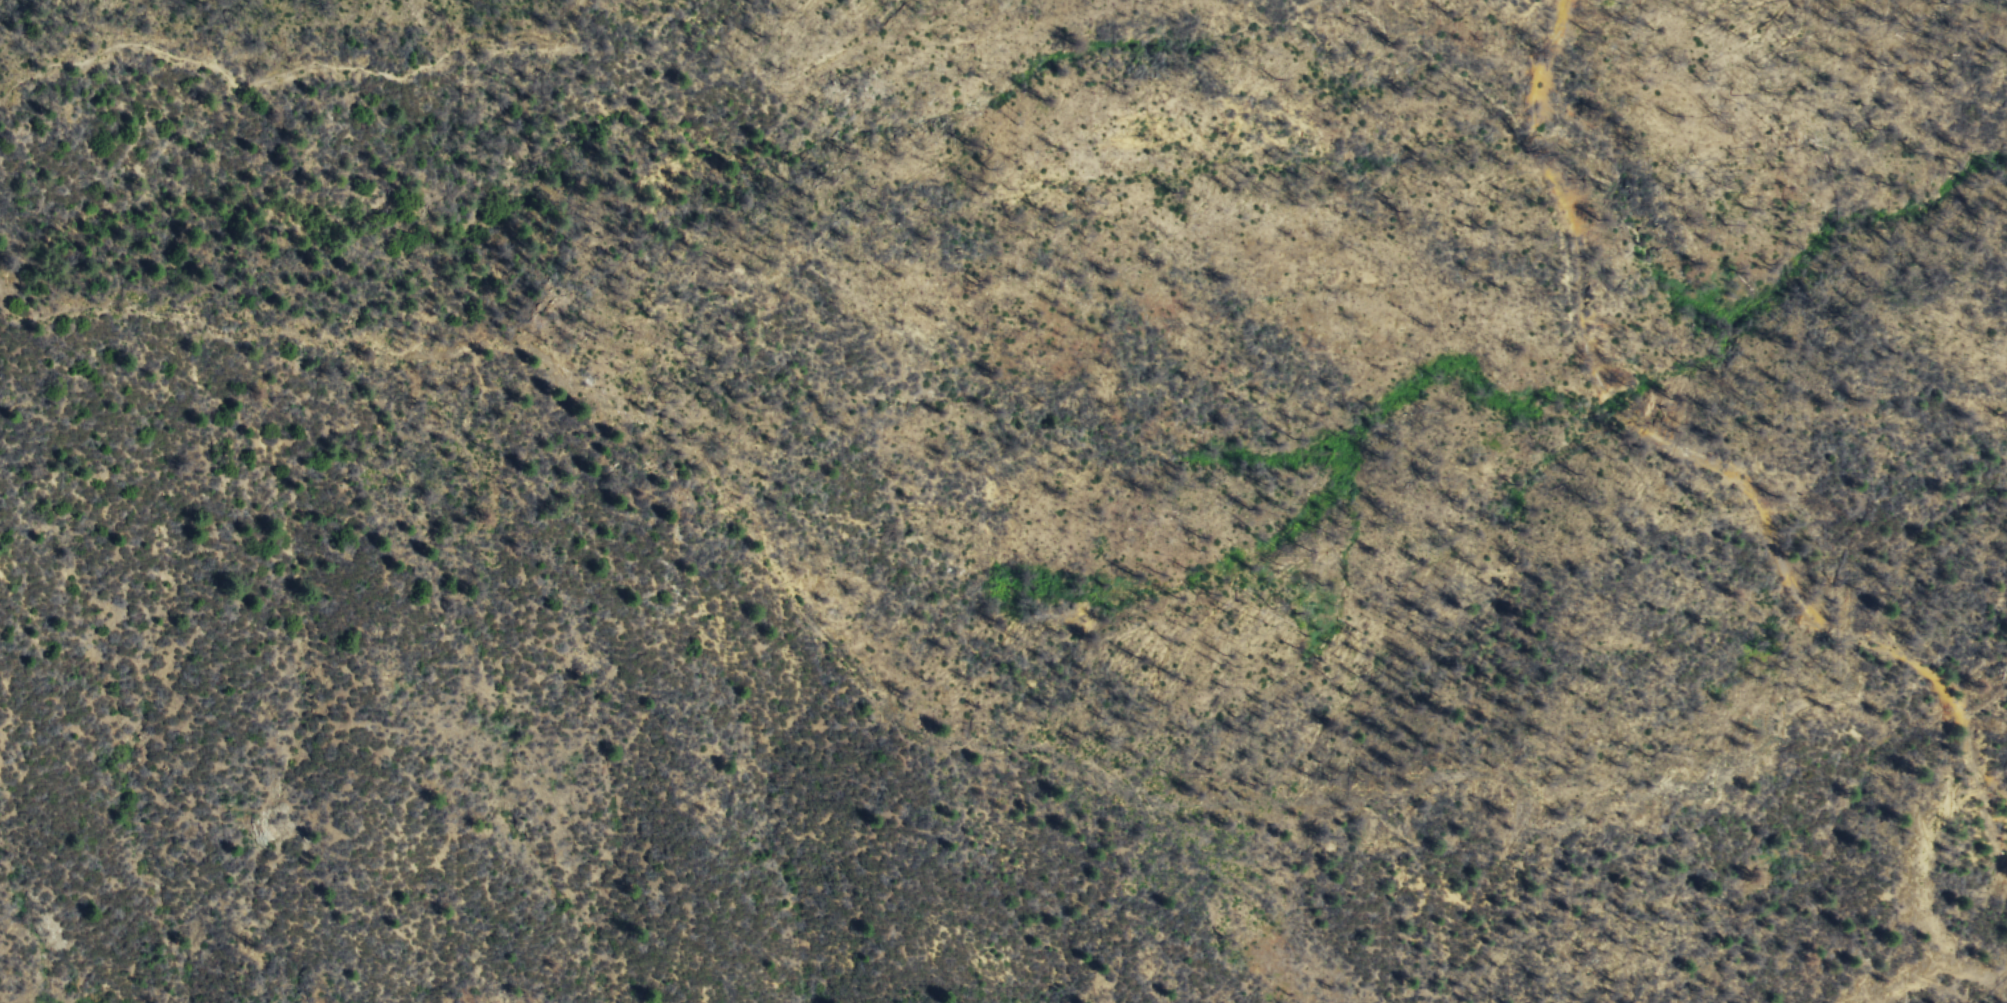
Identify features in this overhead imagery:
road: (1707, 461)

